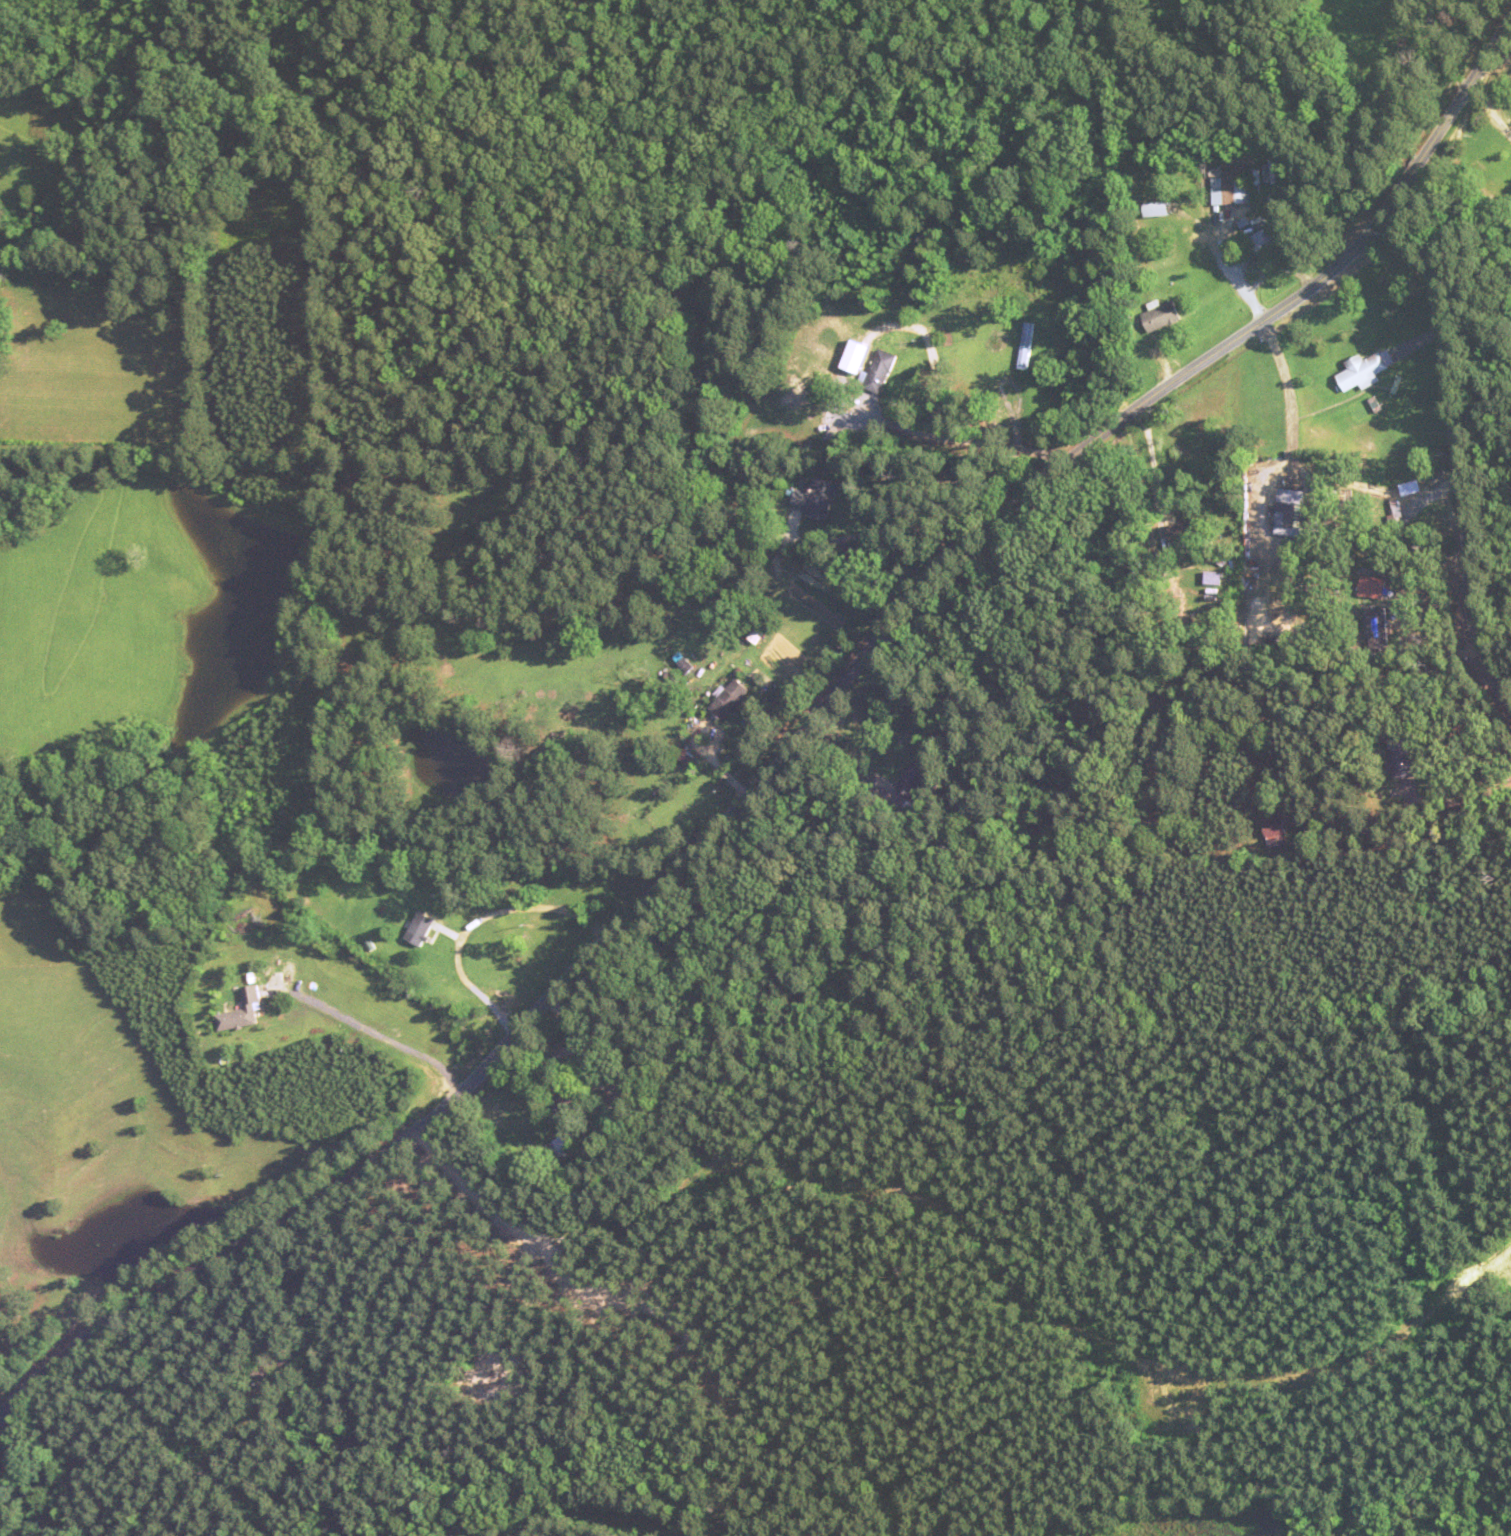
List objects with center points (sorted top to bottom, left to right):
building: (1230, 187)
building: (1156, 210)
building: (1265, 248)
building: (1159, 317)
building: (1025, 346)
building: (878, 372)
building: (1364, 372)
road: (1454, 458)
building: (817, 498)
building: (1289, 512)
building: (1187, 530)
building: (1373, 586)
building: (1378, 628)
building: (729, 699)
road: (784, 750)
building: (1401, 756)
building: (915, 776)
building: (1276, 830)
building: (419, 929)
building: (241, 1011)
building: (572, 1099)
building: (556, 1148)

